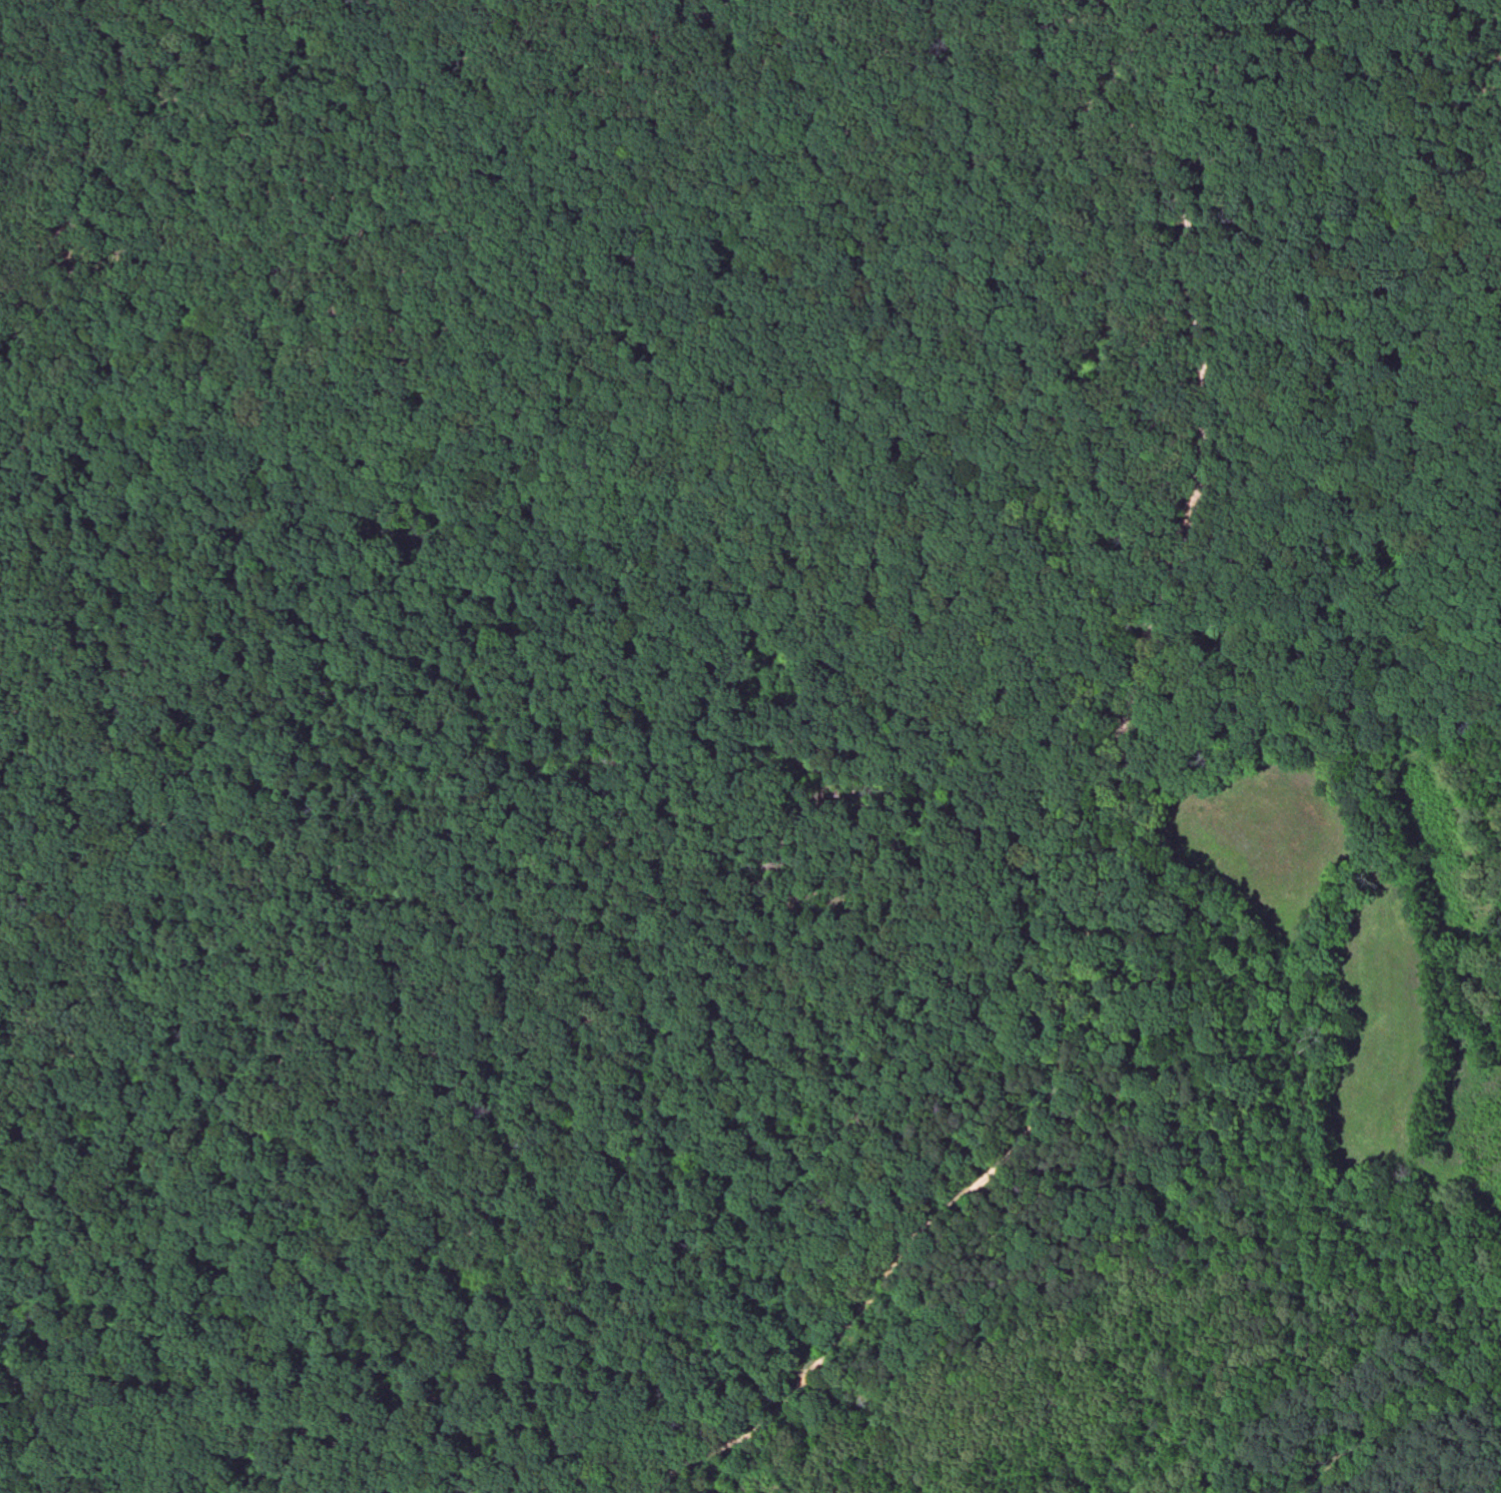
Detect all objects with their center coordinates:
road: (1120, 824)

